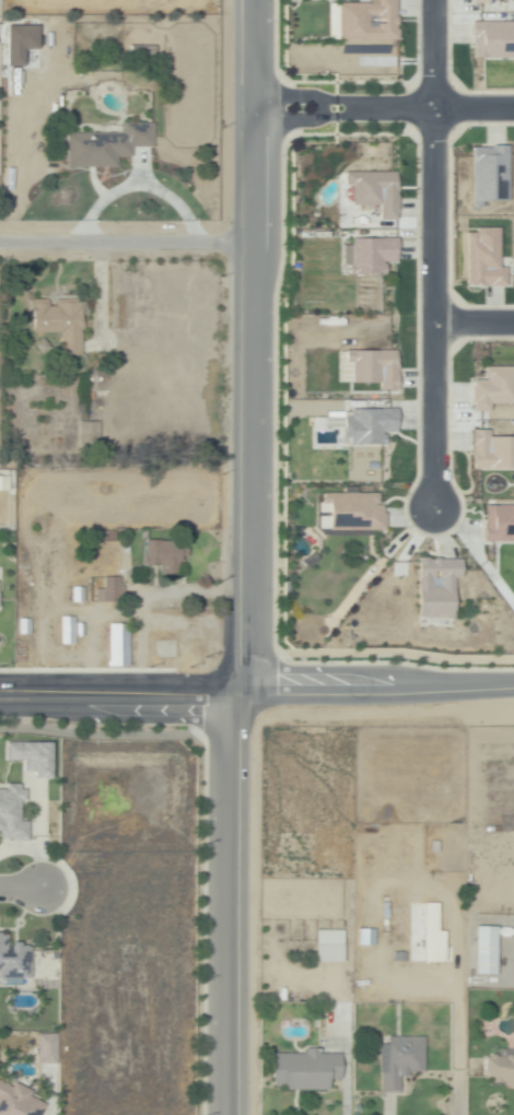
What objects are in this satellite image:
building: (481, 1)
building: (369, 21)
building: (23, 37)
building: (493, 39)
building: (140, 52)
road: (383, 110)
building: (107, 144)
building: (491, 175)
building: (375, 191)
road: (127, 243)
road: (428, 255)
building: (373, 256)
building: (486, 261)
road: (470, 320)
building: (61, 322)
building: (43, 347)
building: (375, 367)
building: (493, 388)
building: (332, 419)
building: (370, 426)
building: (492, 450)
building: (7, 493)
building: (355, 513)
building: (500, 524)
building: (166, 556)
road: (254, 559)
building: (439, 587)
building: (110, 591)
building: (77, 595)
road: (140, 607)
building: (27, 625)
building: (69, 632)
building: (119, 645)
road: (256, 694)
building: (33, 755)
building: (14, 812)
road: (20, 889)
building: (388, 918)
building: (431, 935)
building: (364, 937)
building: (329, 948)
building: (484, 952)
building: (15, 958)
building: (44, 1048)
building: (400, 1063)
building: (304, 1071)
building: (500, 1072)
building: (19, 1101)

